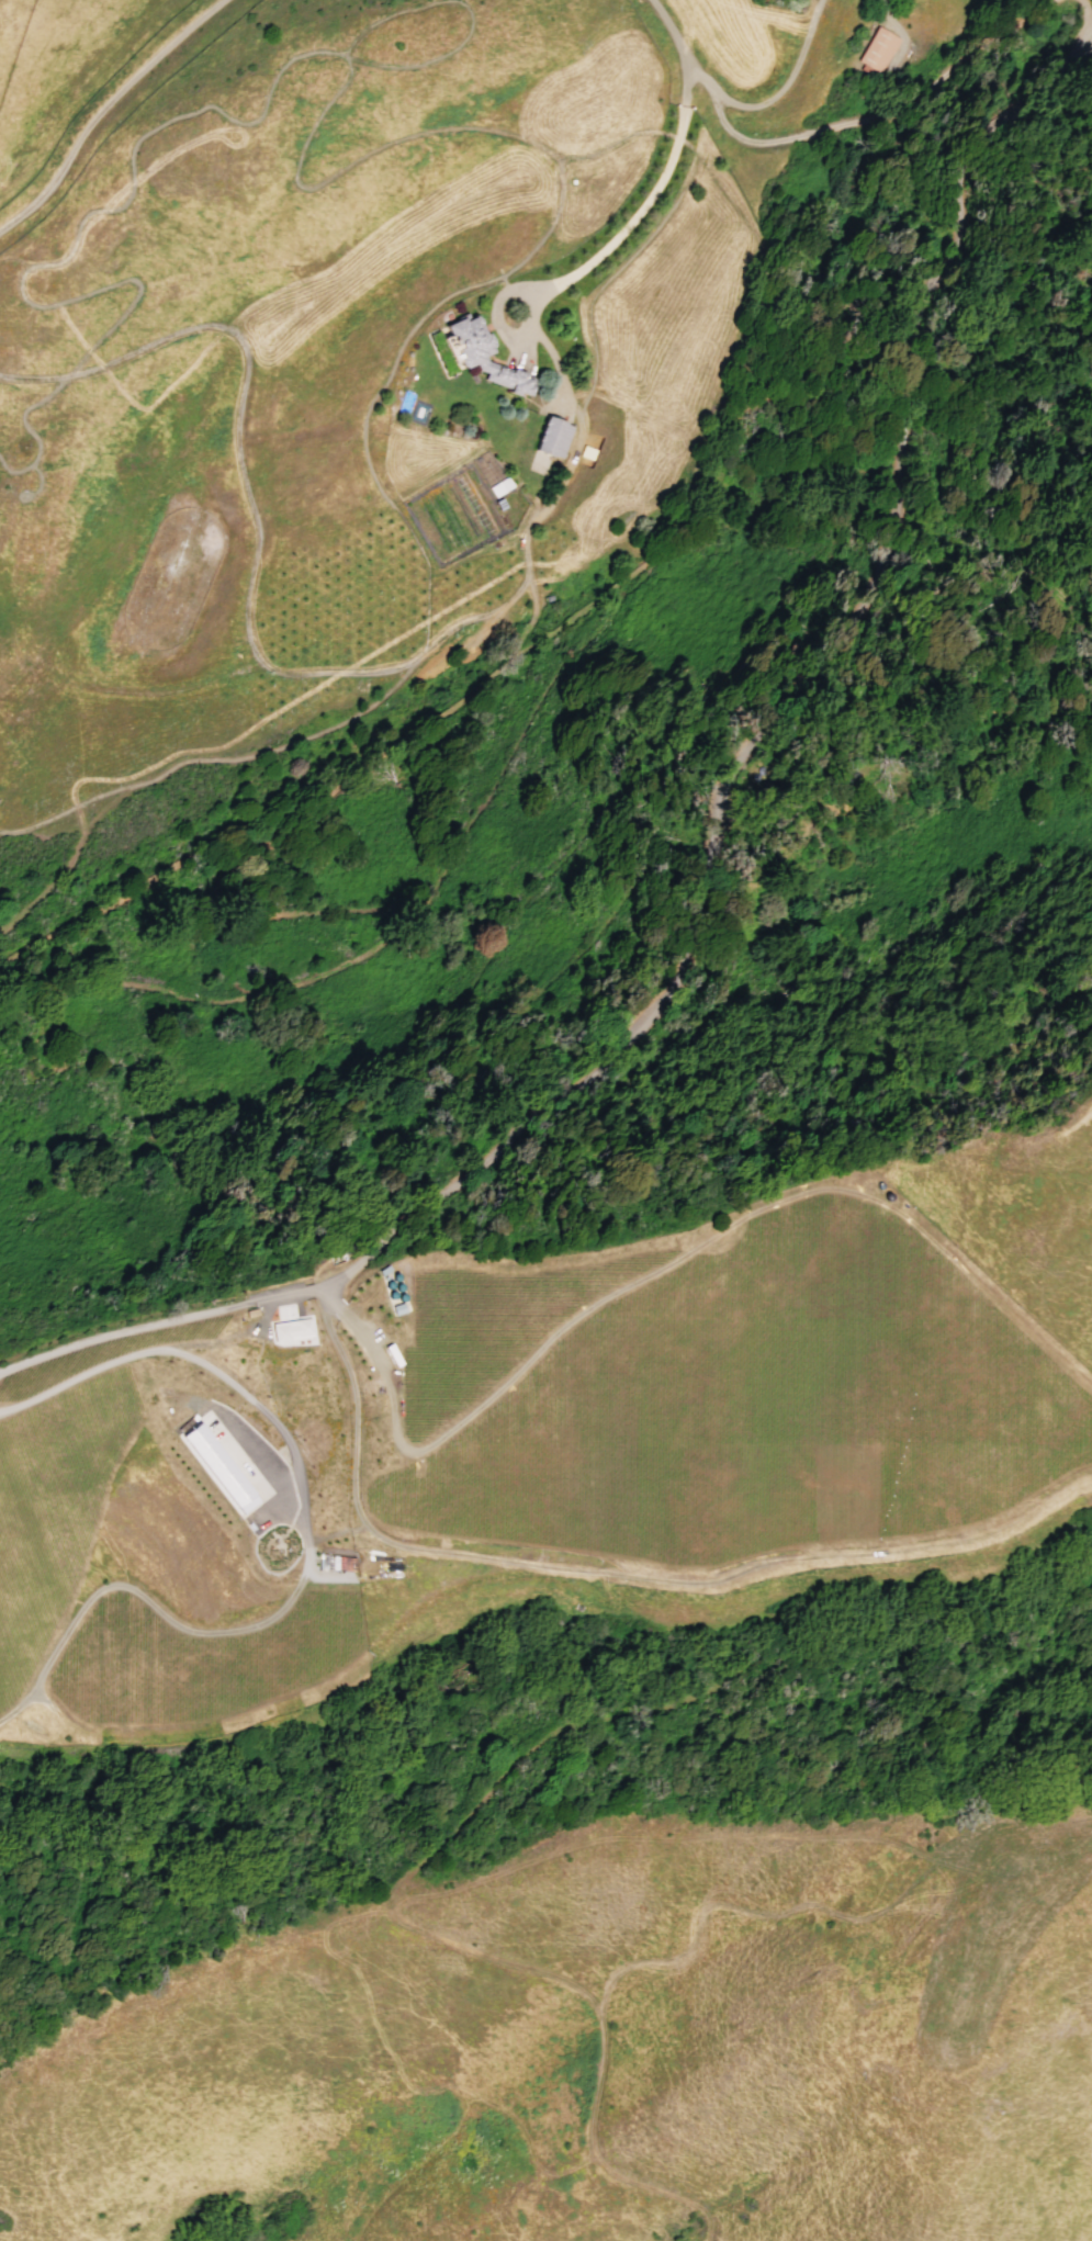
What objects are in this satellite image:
road: (1084, 11)
road: (881, 13)
road: (474, 19)
road: (666, 33)
building: (874, 49)
road: (774, 95)
road: (105, 108)
road: (871, 115)
road: (444, 129)
road: (638, 205)
road: (660, 222)
building: (482, 357)
building: (551, 438)
road: (30, 491)
road: (264, 668)
road: (707, 856)
building: (290, 1333)
building: (382, 1337)
building: (397, 1356)
building: (219, 1472)
crop: (70, 1478)
road: (302, 1545)
road: (668, 1724)

